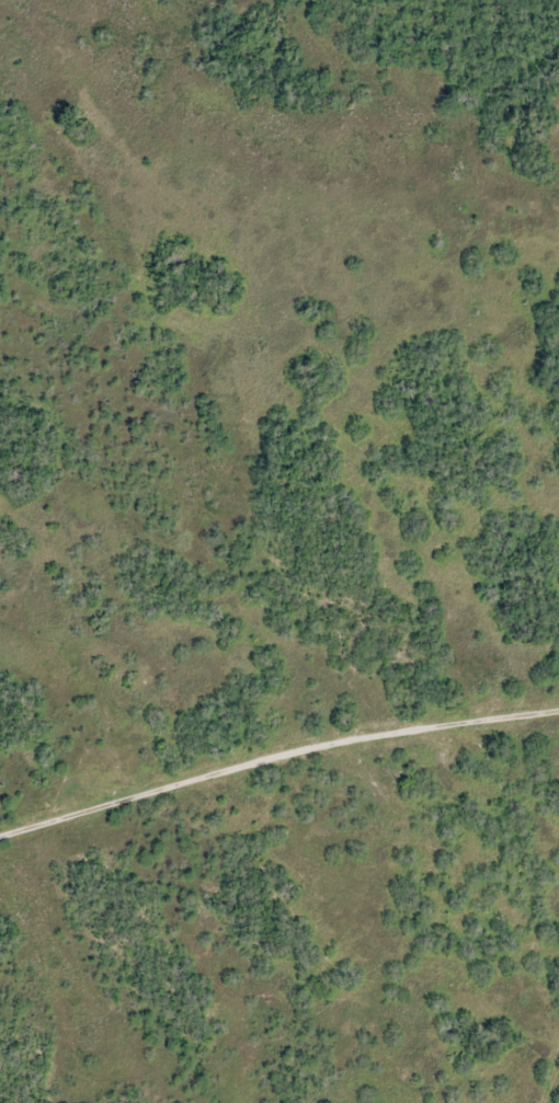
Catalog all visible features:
road: (277, 760)

